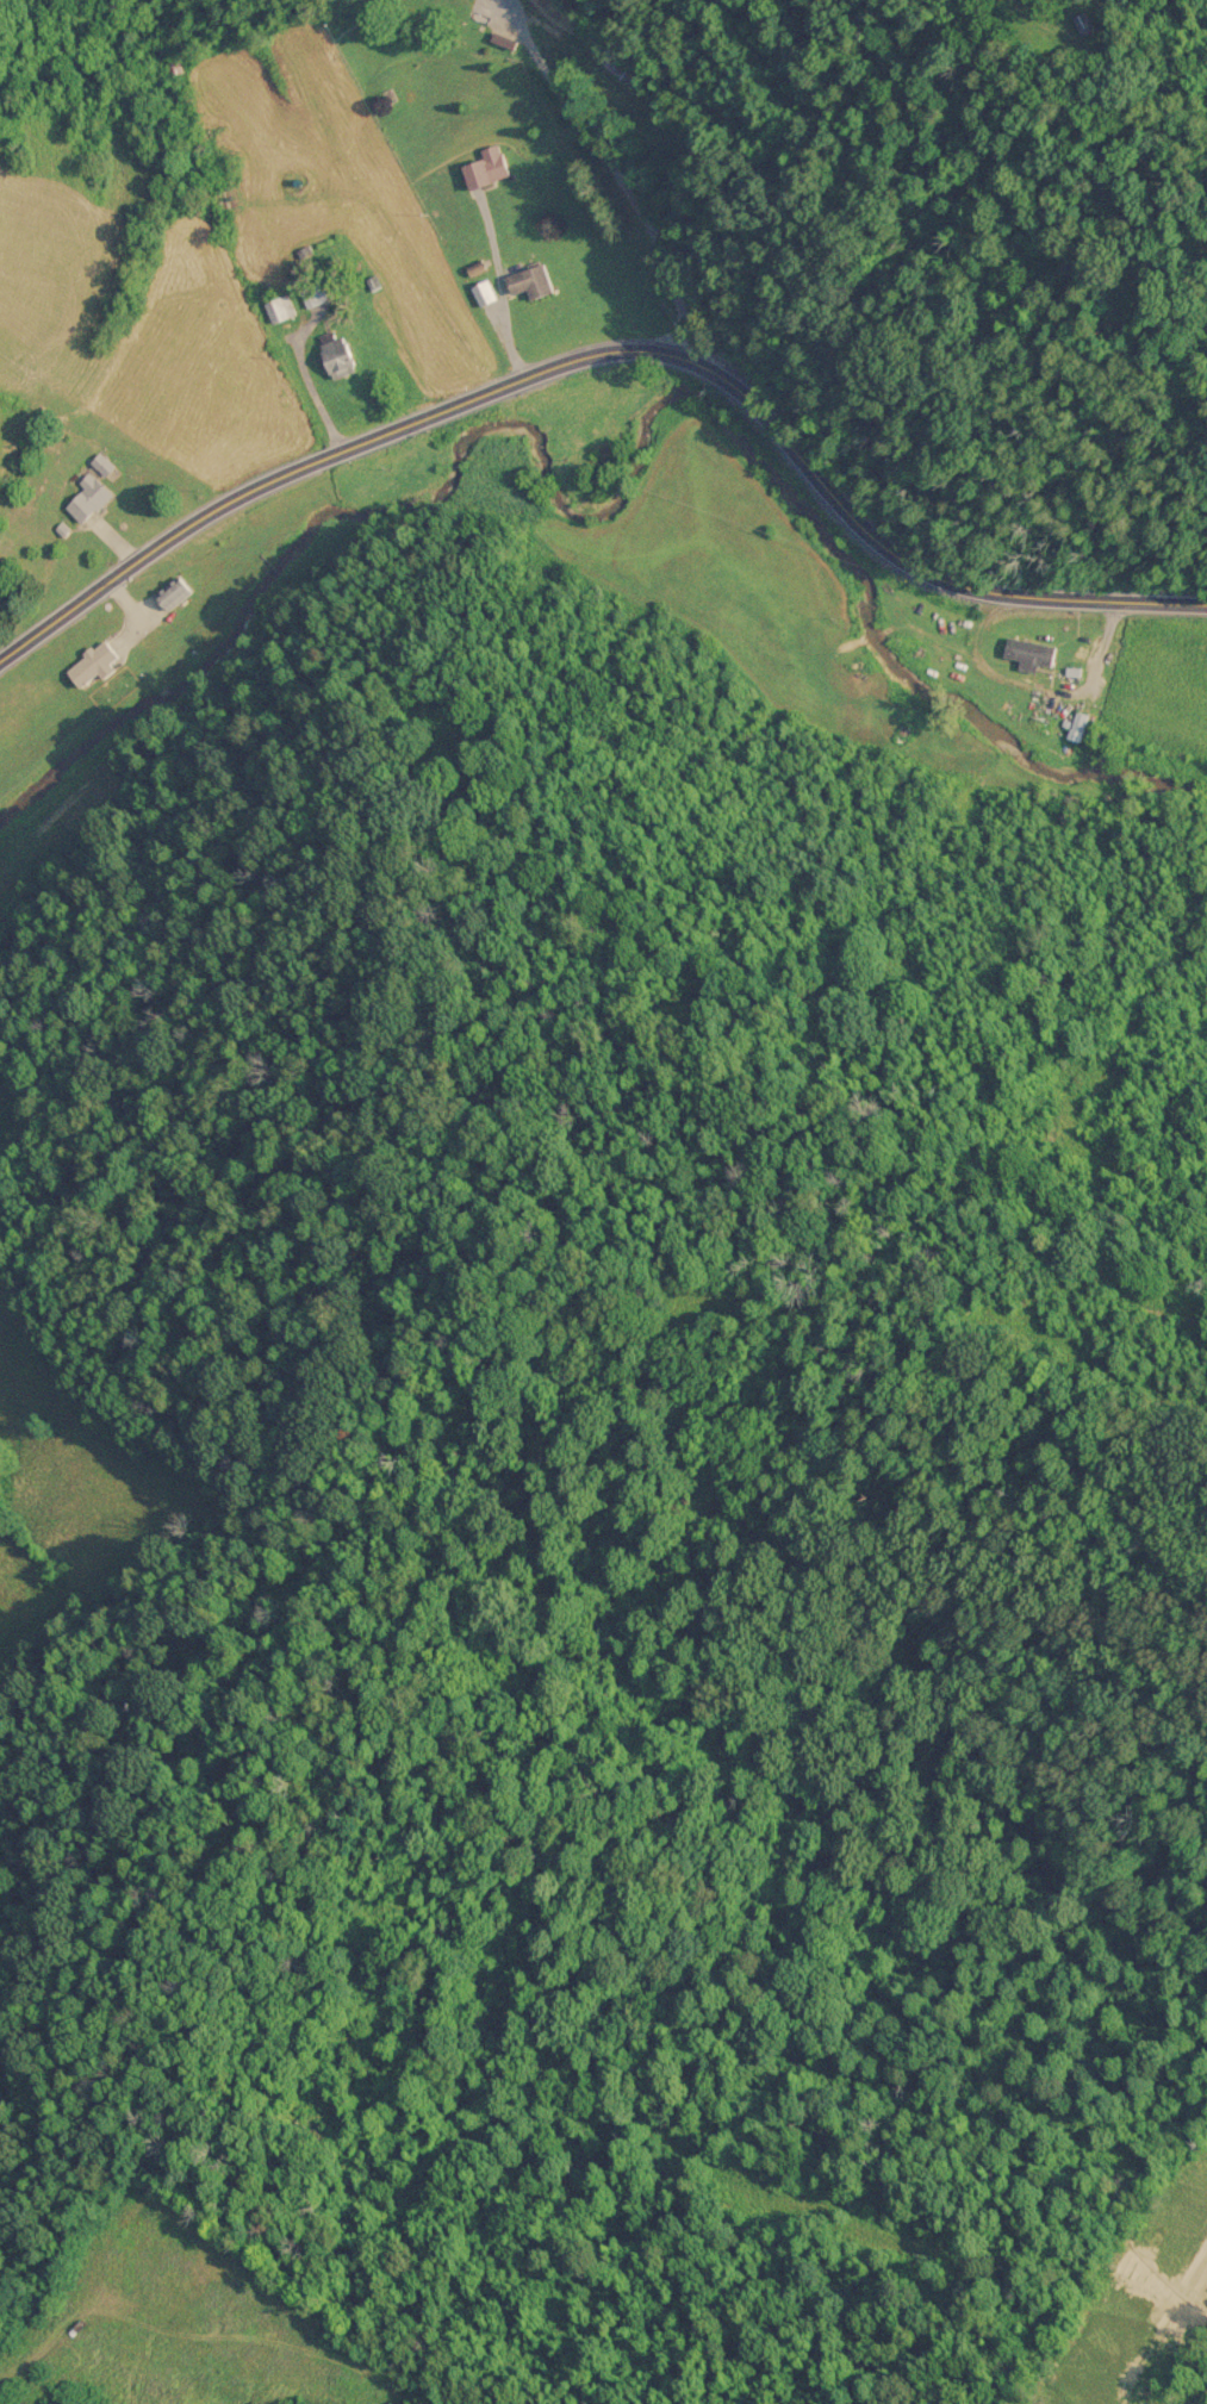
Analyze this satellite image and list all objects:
building: (1081, 23)
building: (497, 38)
building: (175, 69)
building: (481, 166)
road: (621, 179)
building: (525, 280)
road: (498, 284)
building: (483, 291)
building: (279, 307)
road: (608, 350)
building: (334, 354)
road: (313, 380)
building: (106, 465)
building: (99, 488)
building: (178, 590)
building: (1027, 652)
building: (99, 662)
building: (1080, 721)

